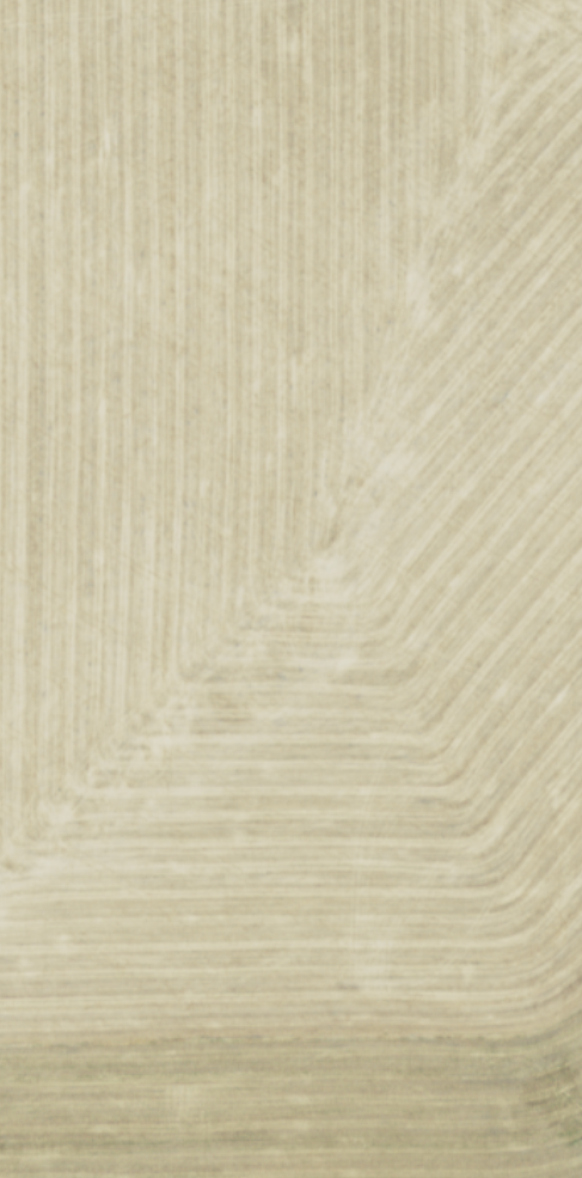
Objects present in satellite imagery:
crop: (290, 588)

